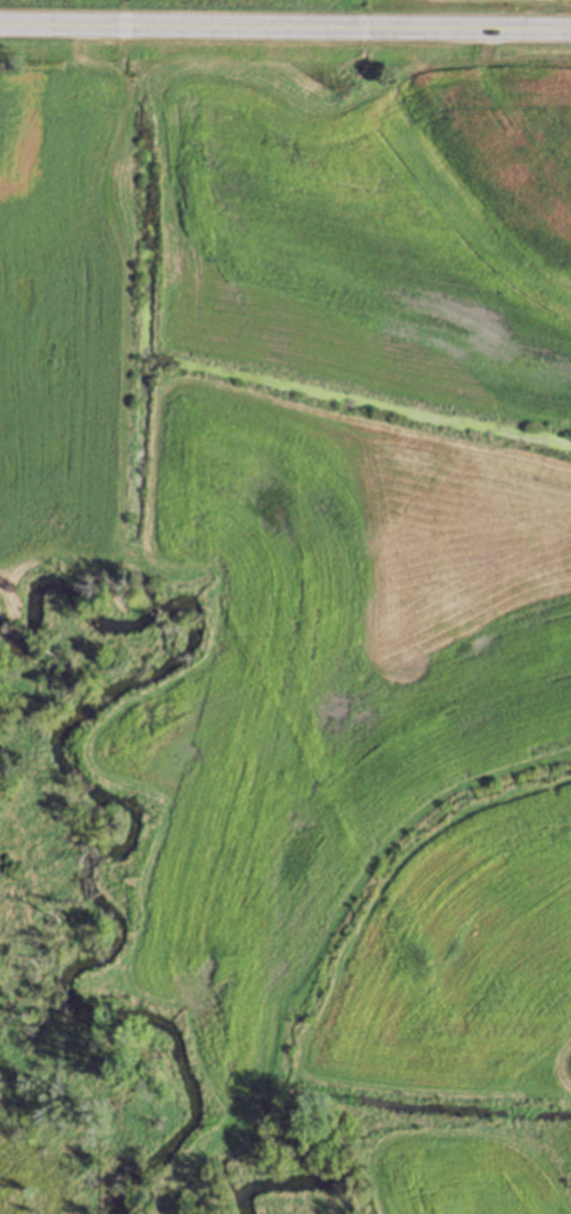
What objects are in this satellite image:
road: (284, 26)

